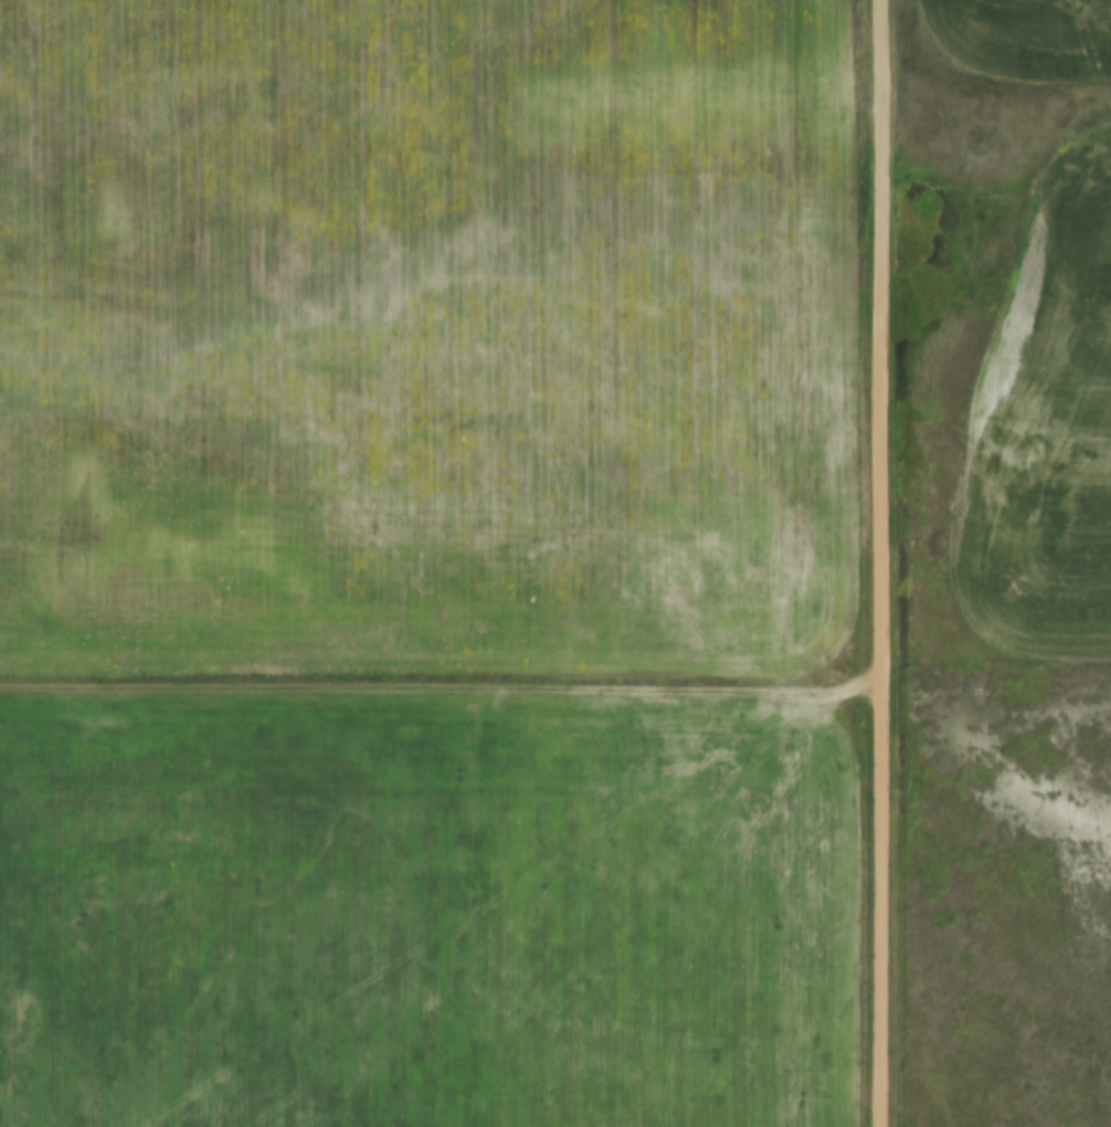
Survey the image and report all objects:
road: (879, 562)

